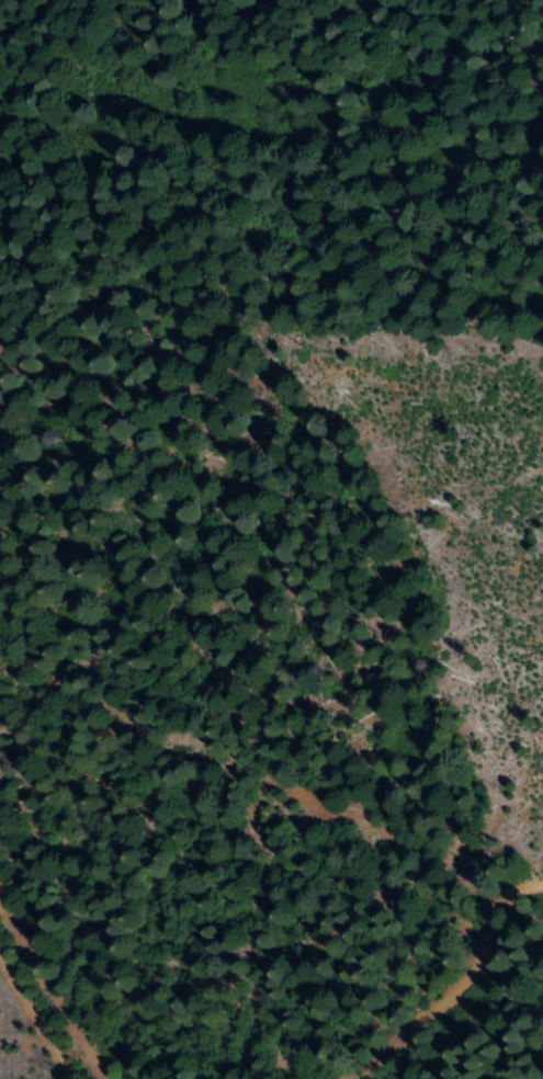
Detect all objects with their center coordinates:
road: (52, 996)
road: (272, 1038)

